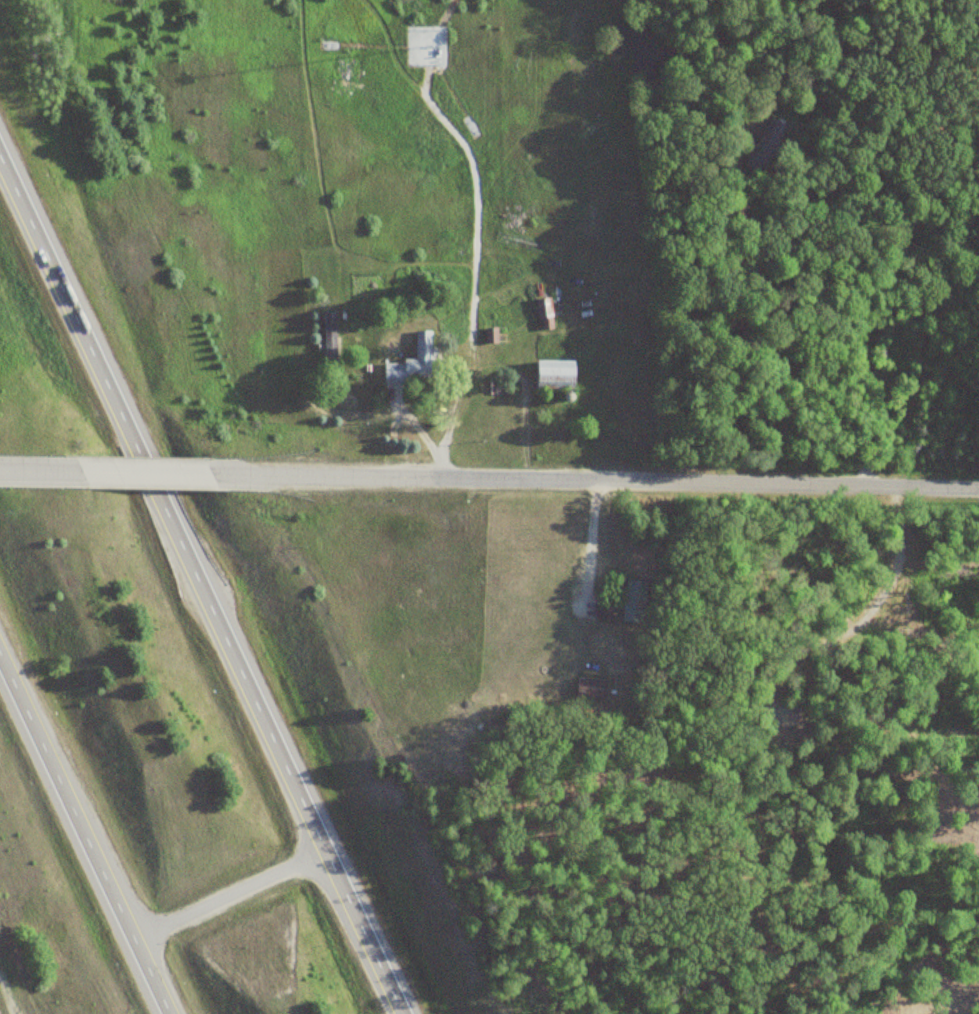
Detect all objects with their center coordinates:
building: (766, 146)
building: (542, 314)
building: (327, 339)
building: (419, 346)
building: (550, 375)
road: (42, 469)
road: (139, 471)
road: (586, 478)
road: (207, 571)
building: (620, 605)
building: (589, 687)
road: (86, 831)
road: (237, 893)

